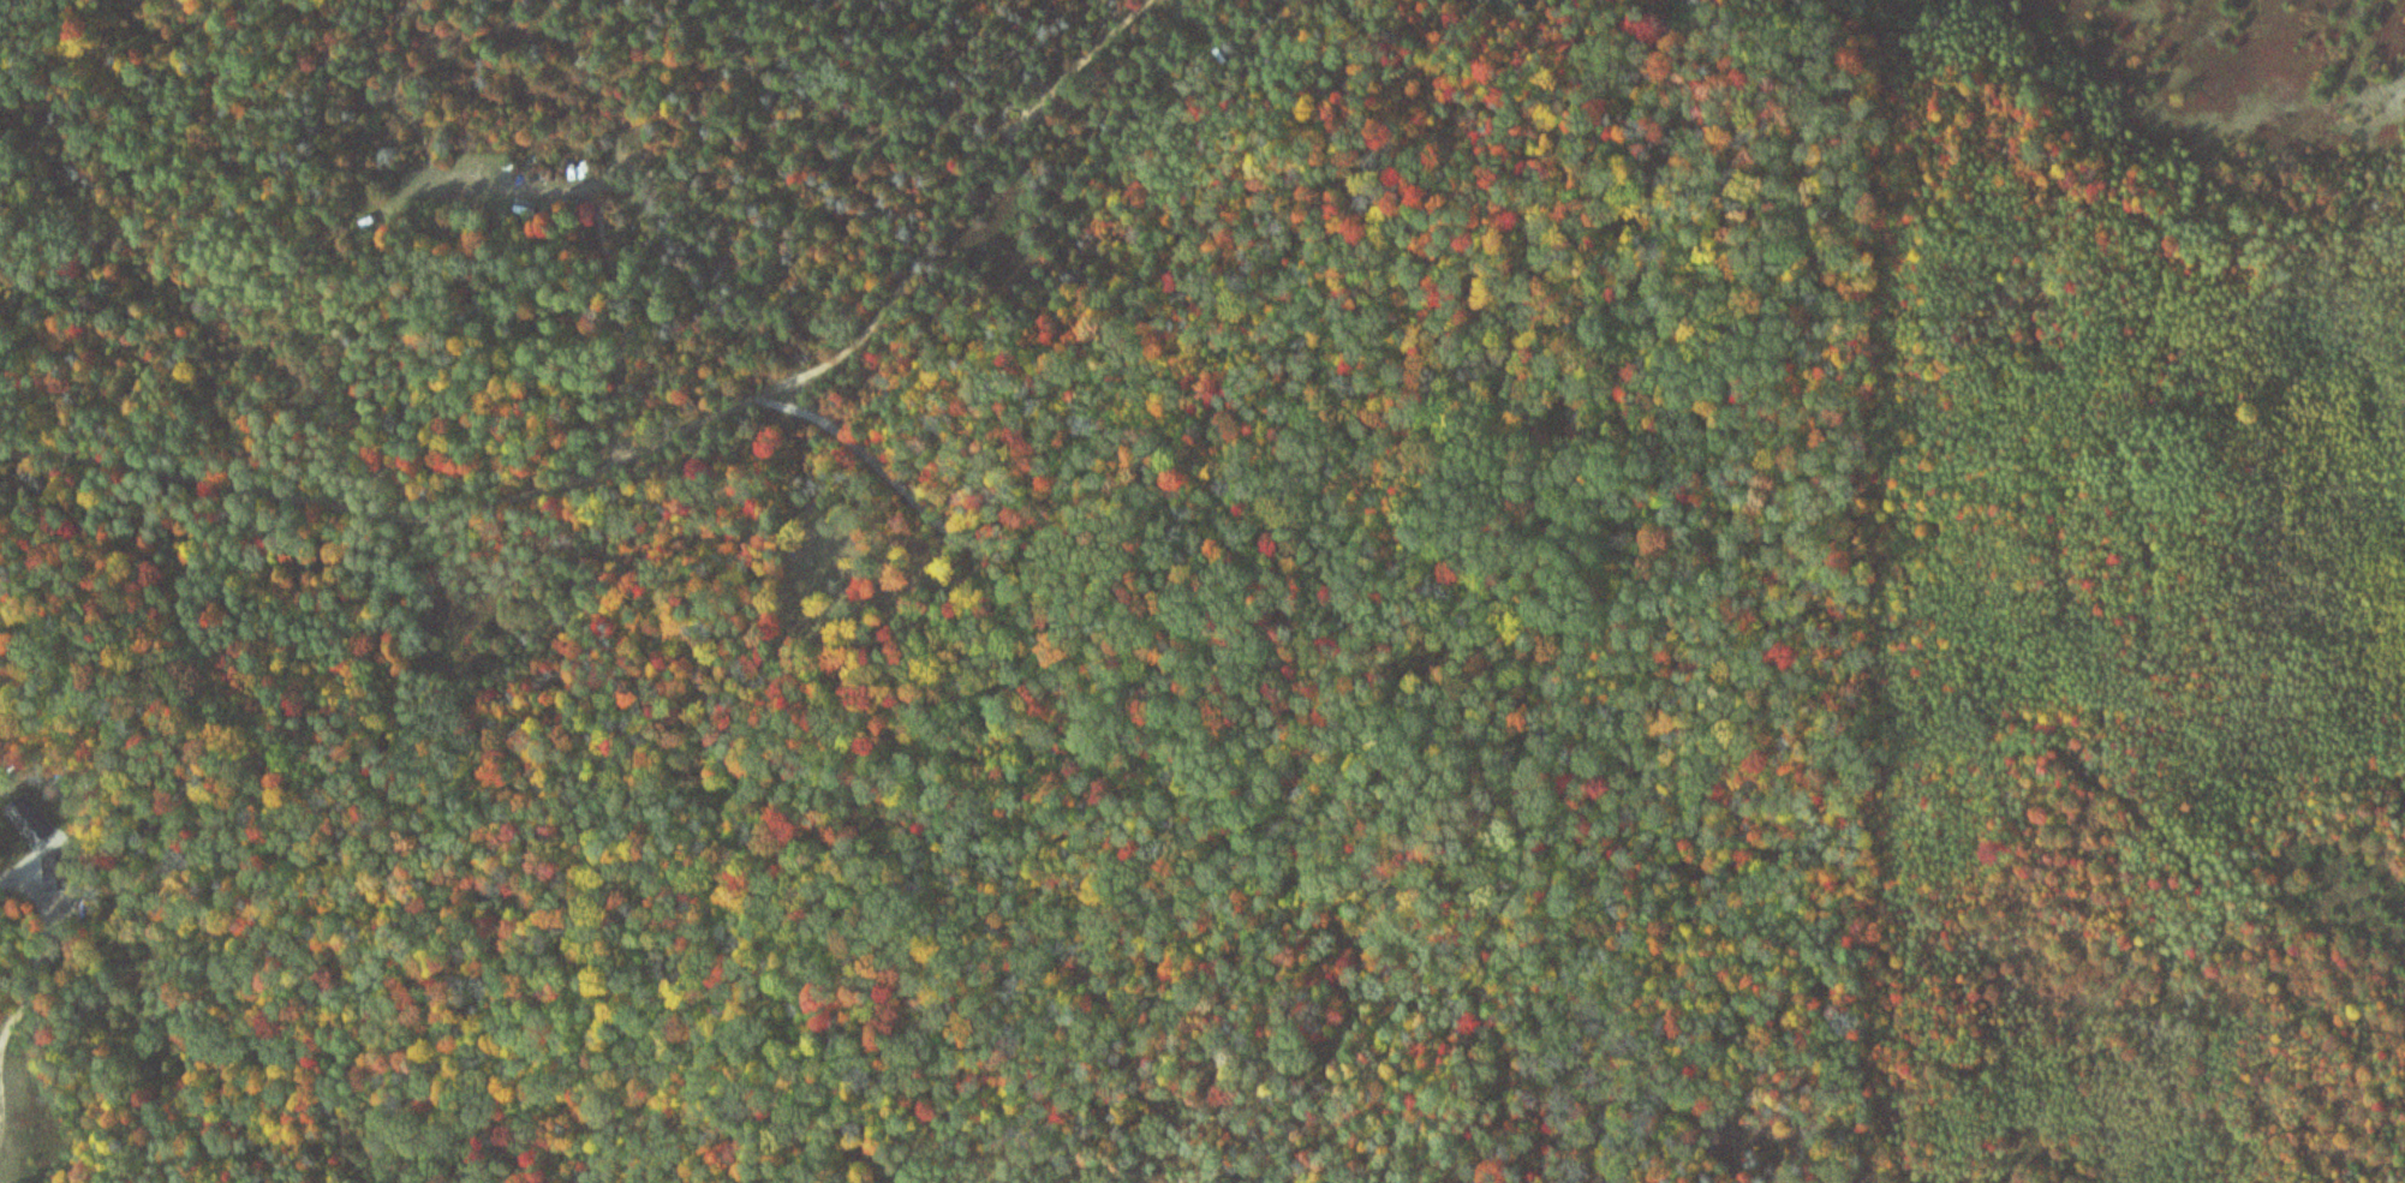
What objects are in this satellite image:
road: (652, 440)

